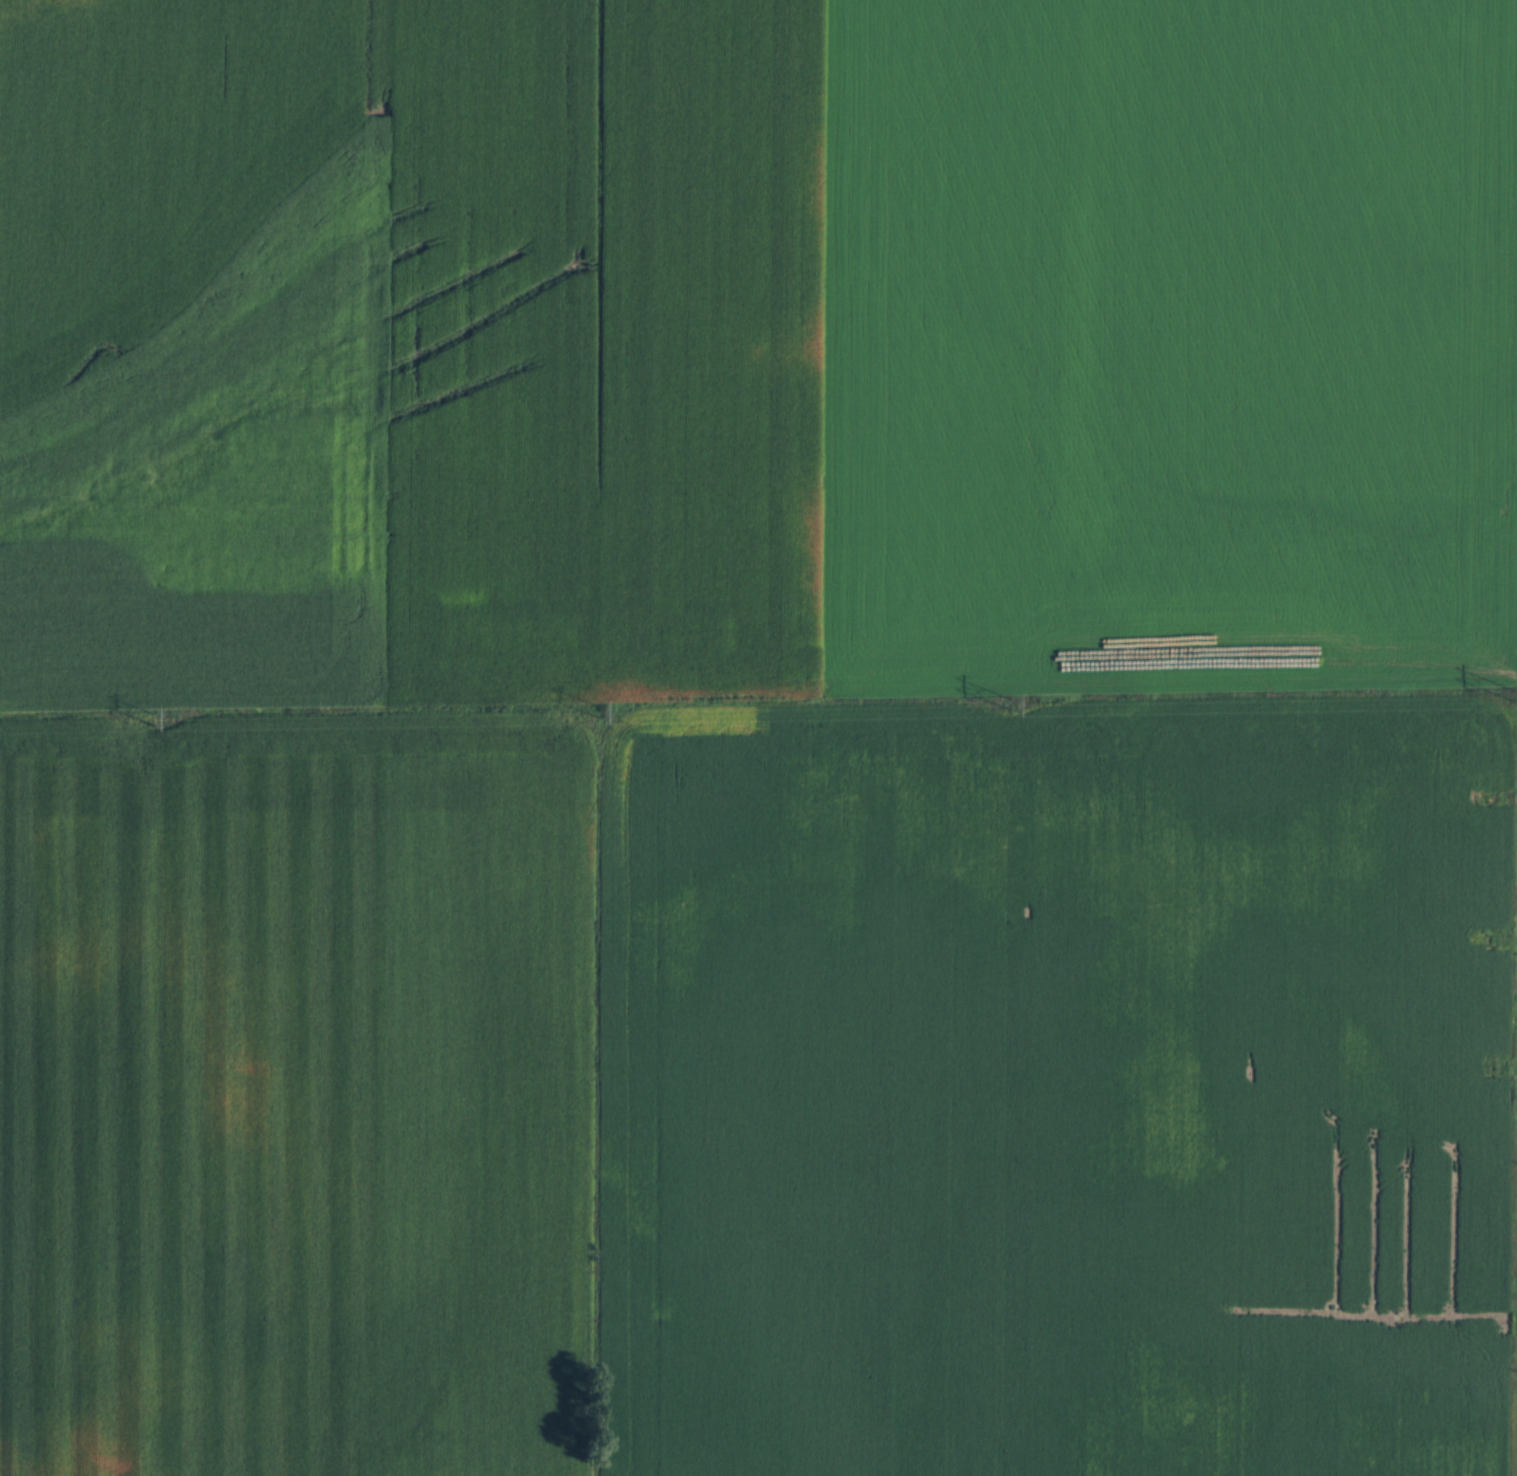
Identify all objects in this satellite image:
power tower: (1508, 698)
power tower: (1009, 705)
power tower: (593, 713)
power tower: (159, 720)

